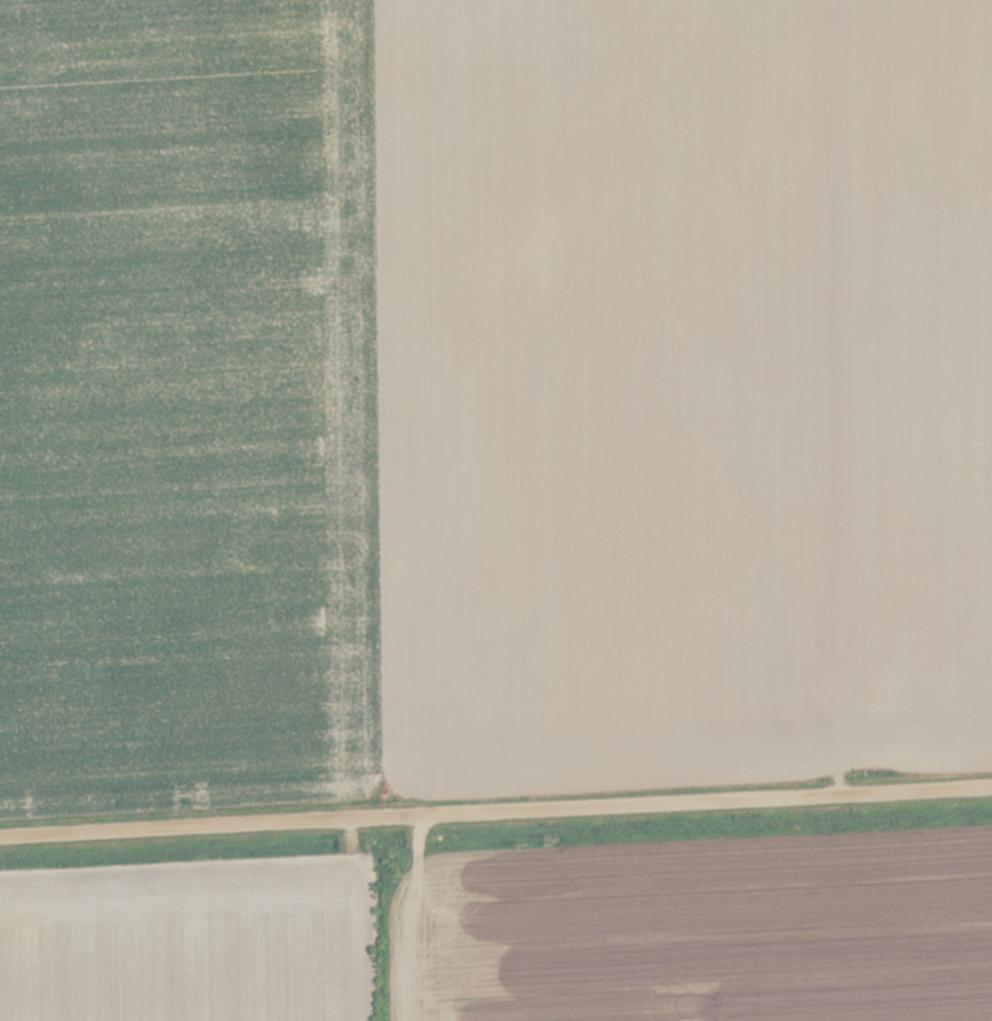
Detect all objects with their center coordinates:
road: (496, 813)

